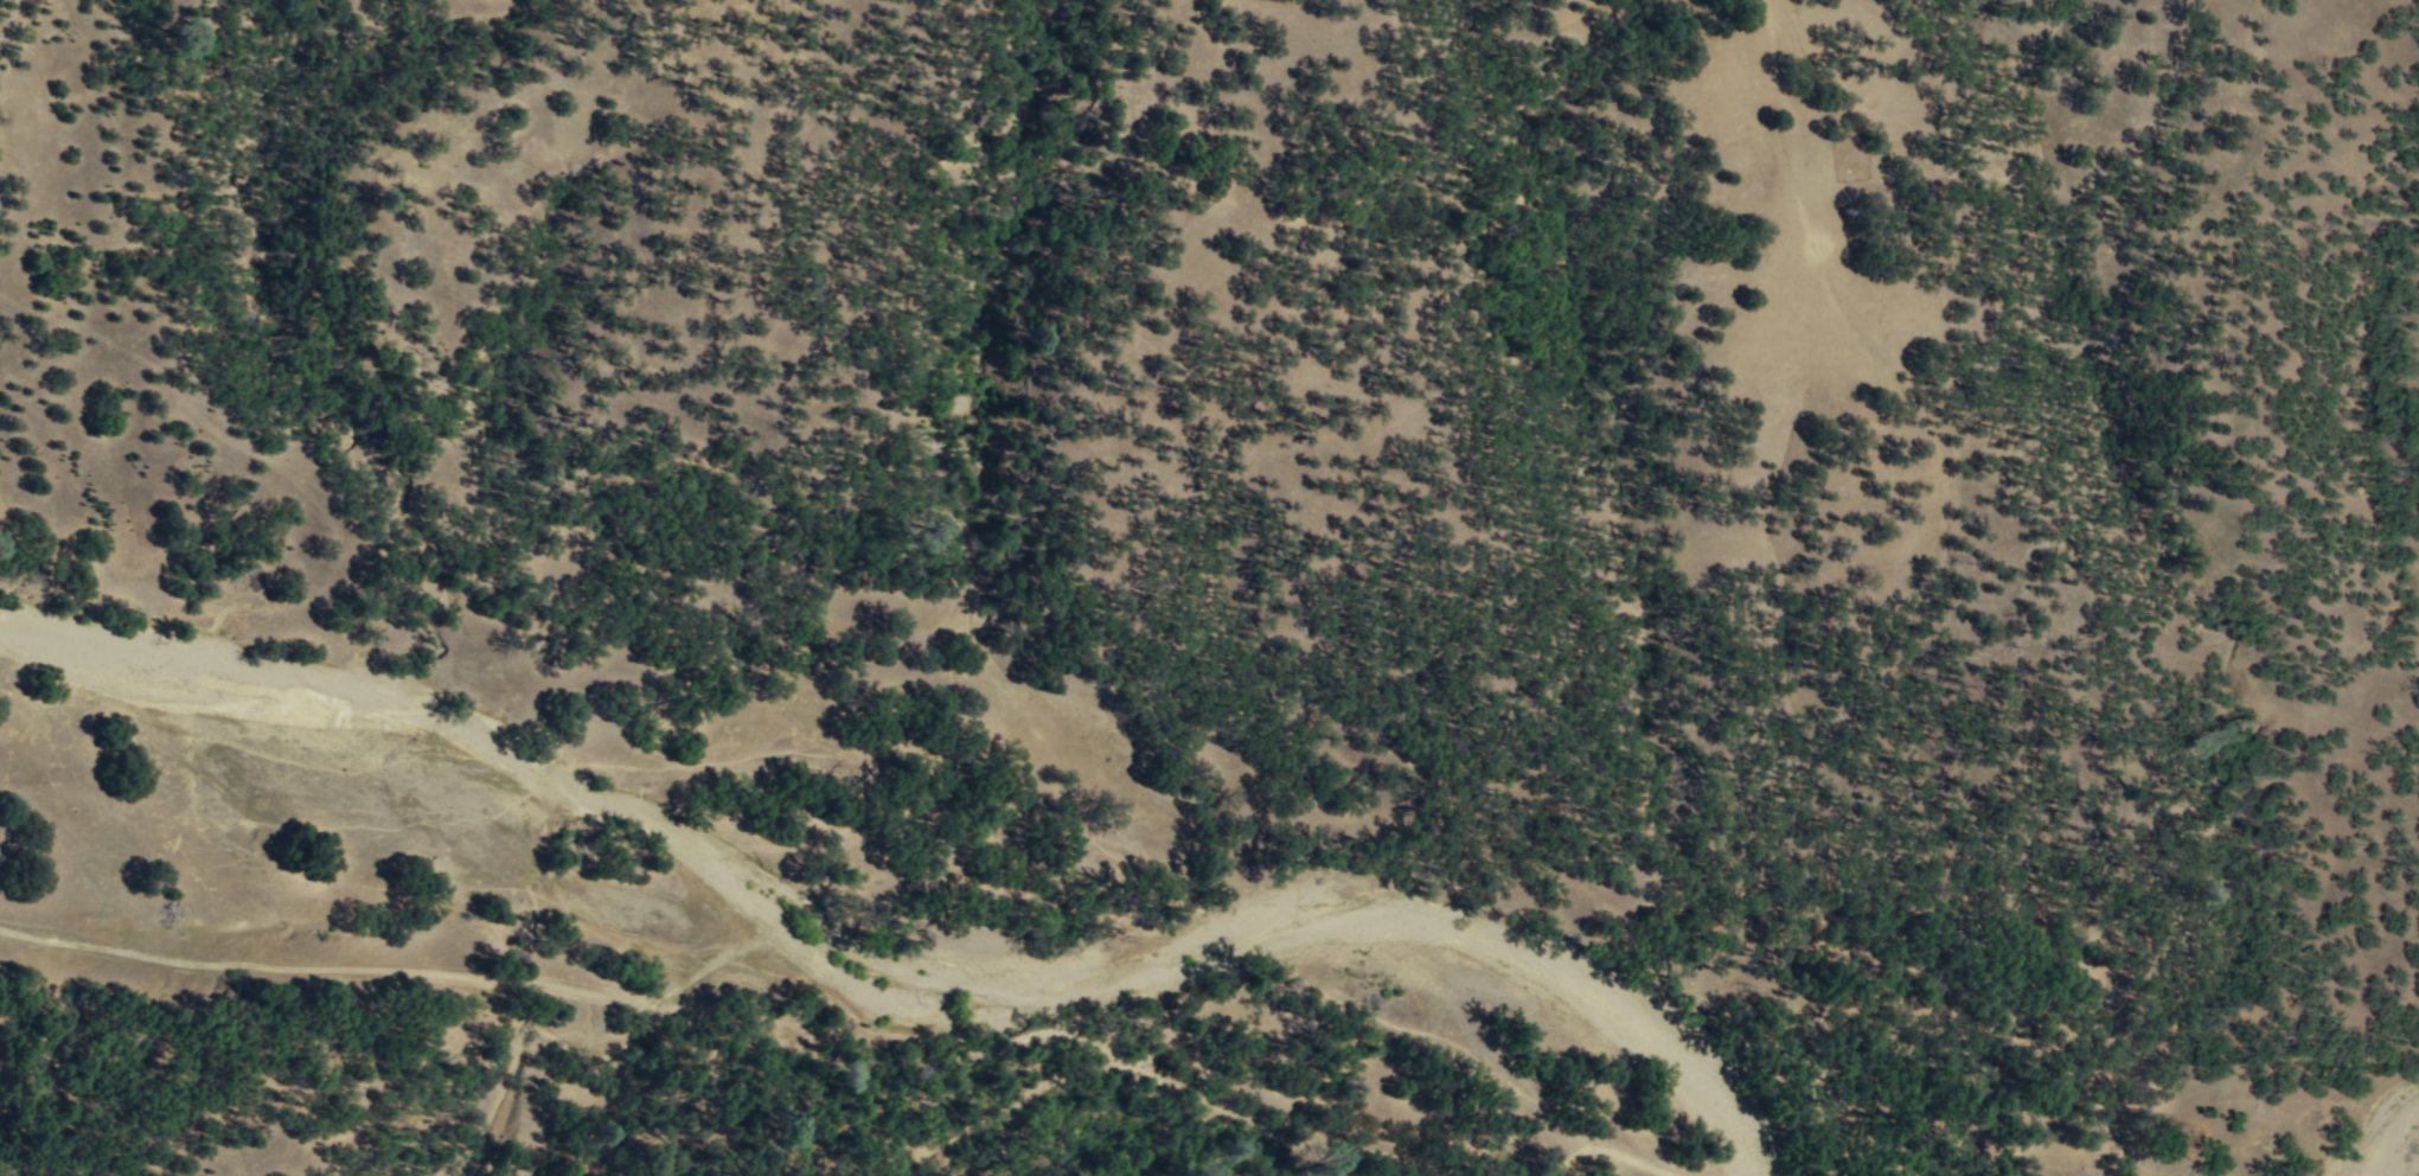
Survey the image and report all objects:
river: (892, 997)
road: (763, 1031)
river: (2400, 1164)

